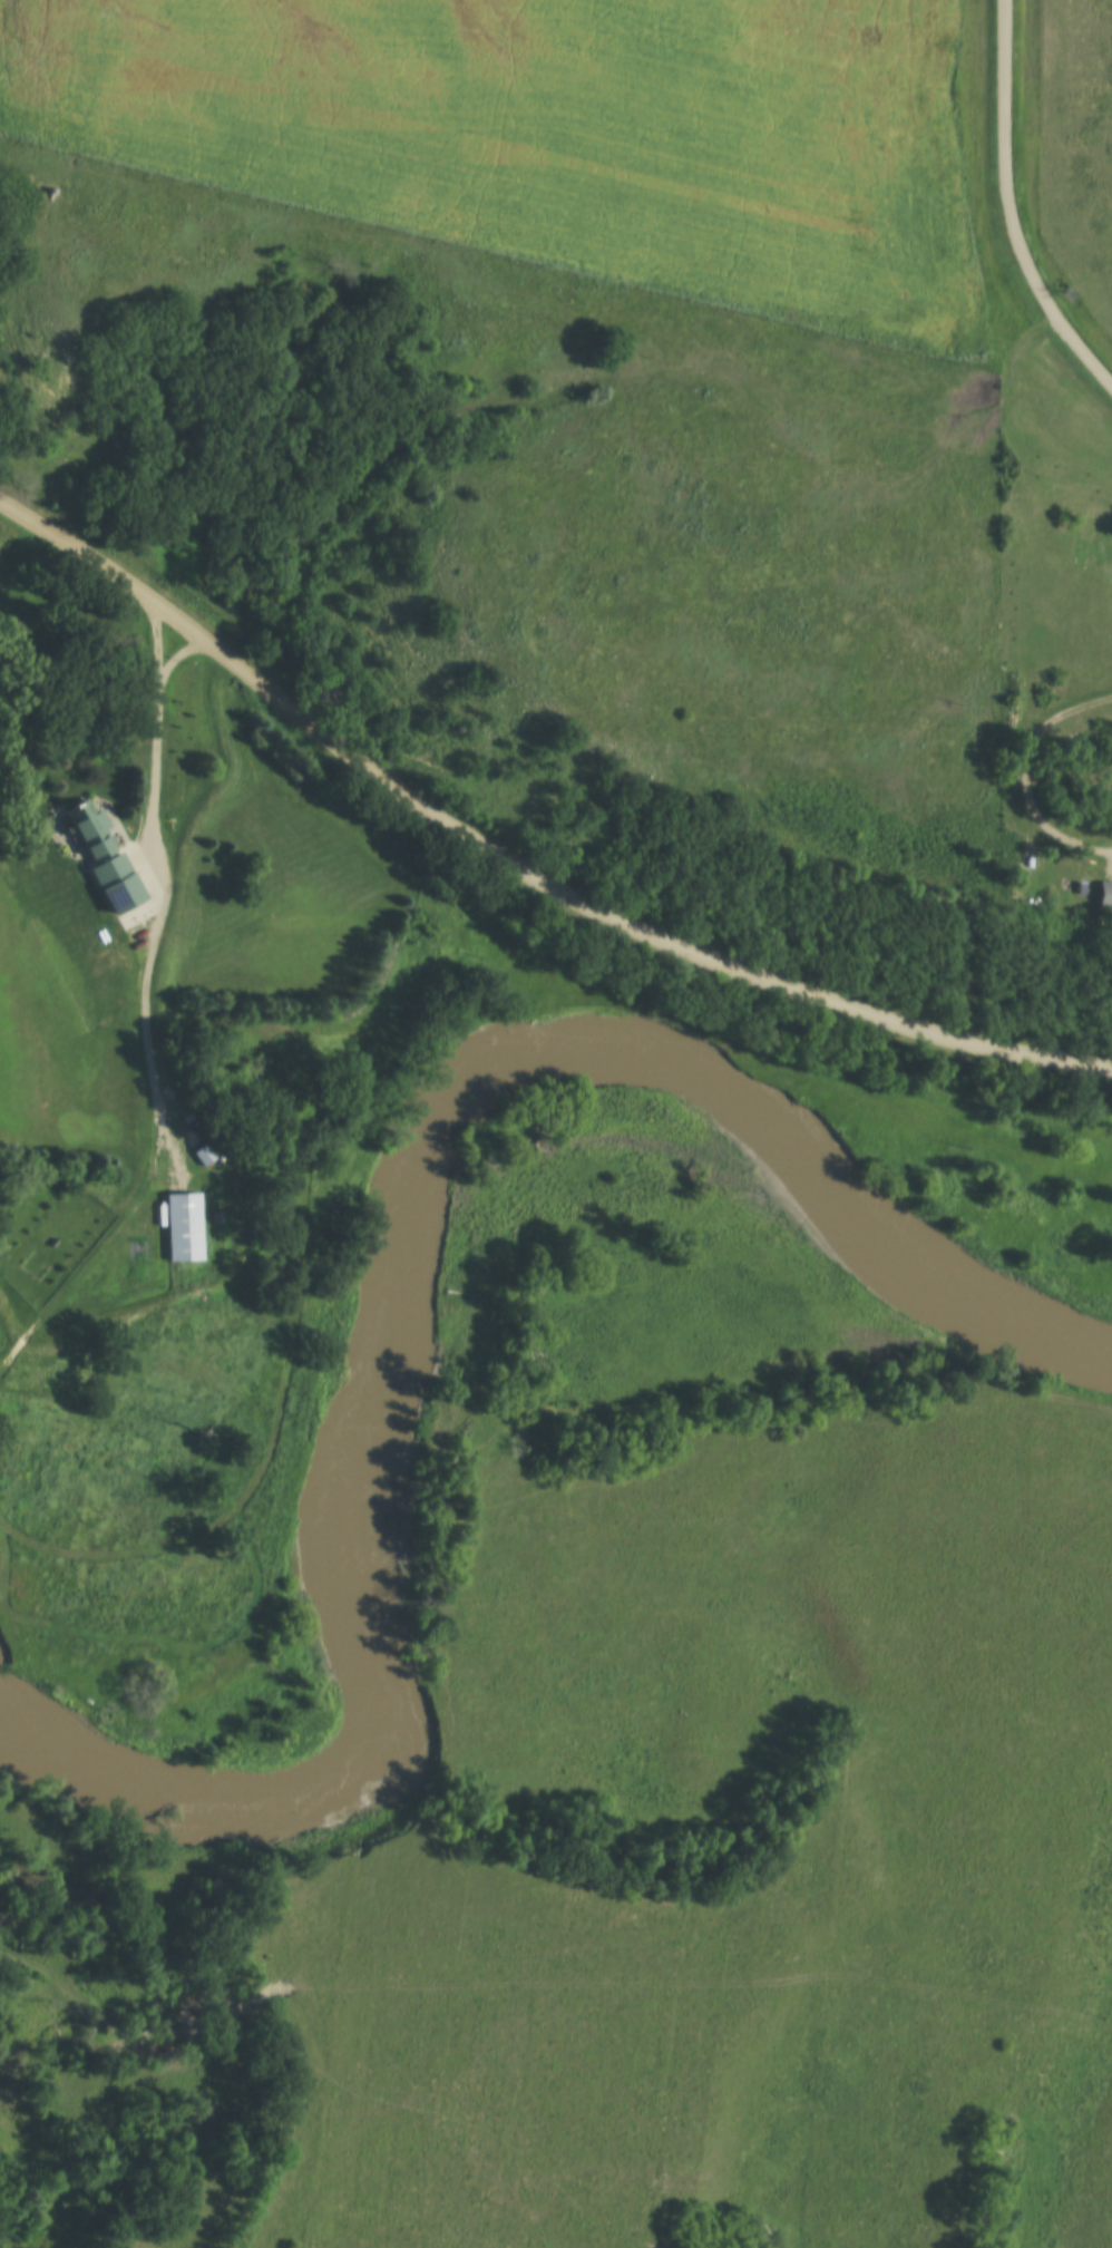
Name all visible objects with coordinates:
road: (1008, 207)
road: (1023, 772)
building: (106, 856)
road: (514, 862)
building: (1105, 893)
road: (152, 899)
building: (184, 1226)
river: (388, 1239)
road: (78, 1277)

